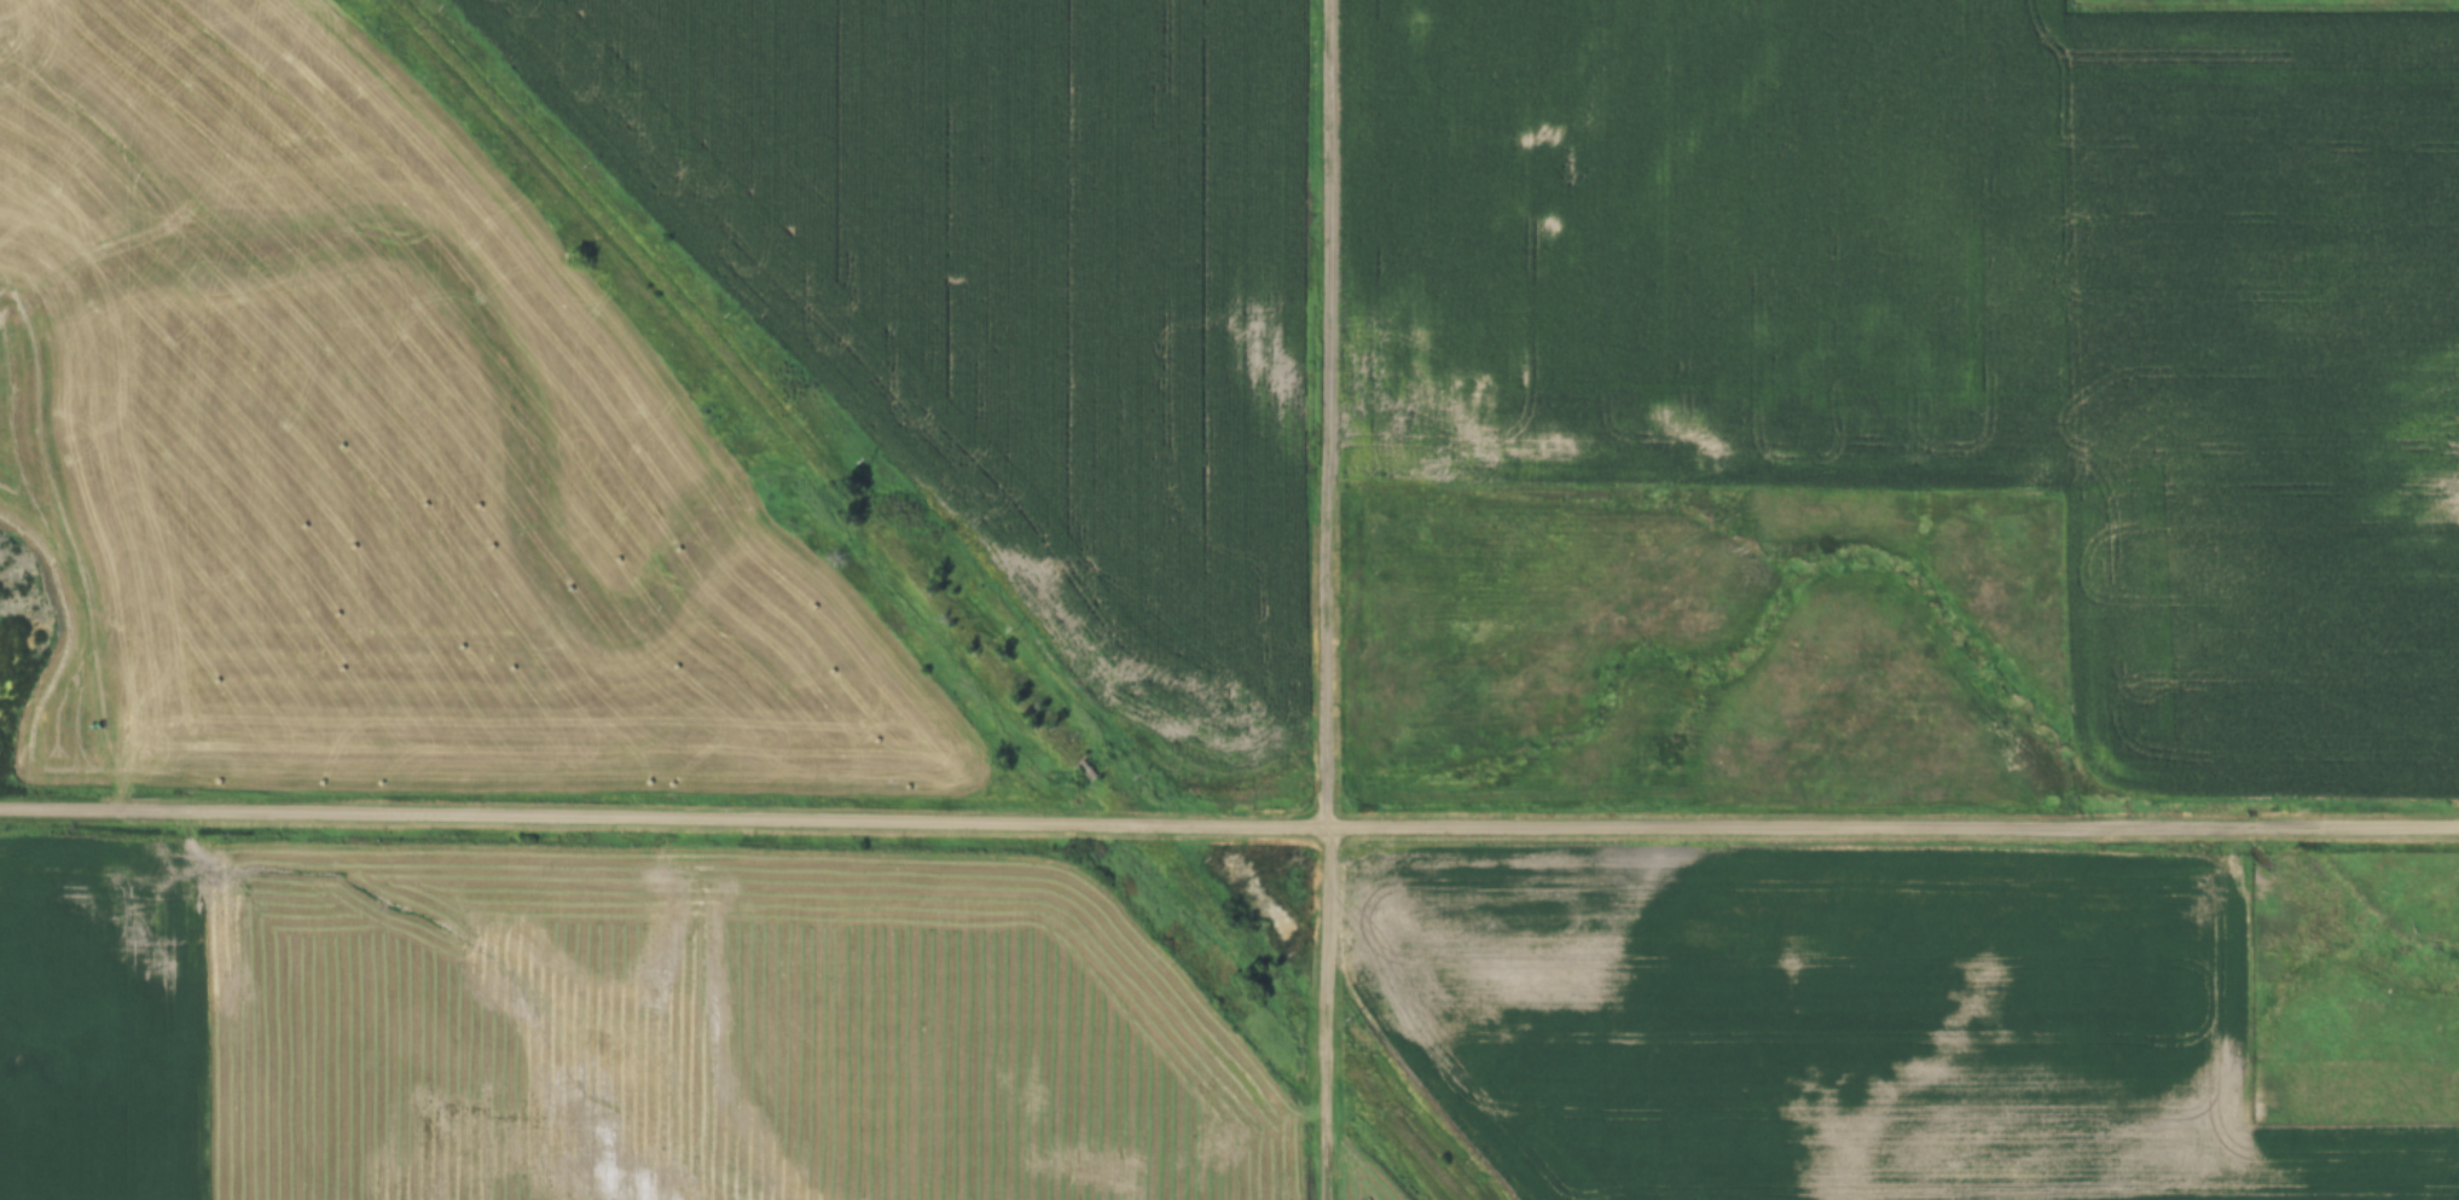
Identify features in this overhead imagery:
road: (1329, 411)
road: (1893, 815)
road: (665, 818)
road: (1328, 1010)

